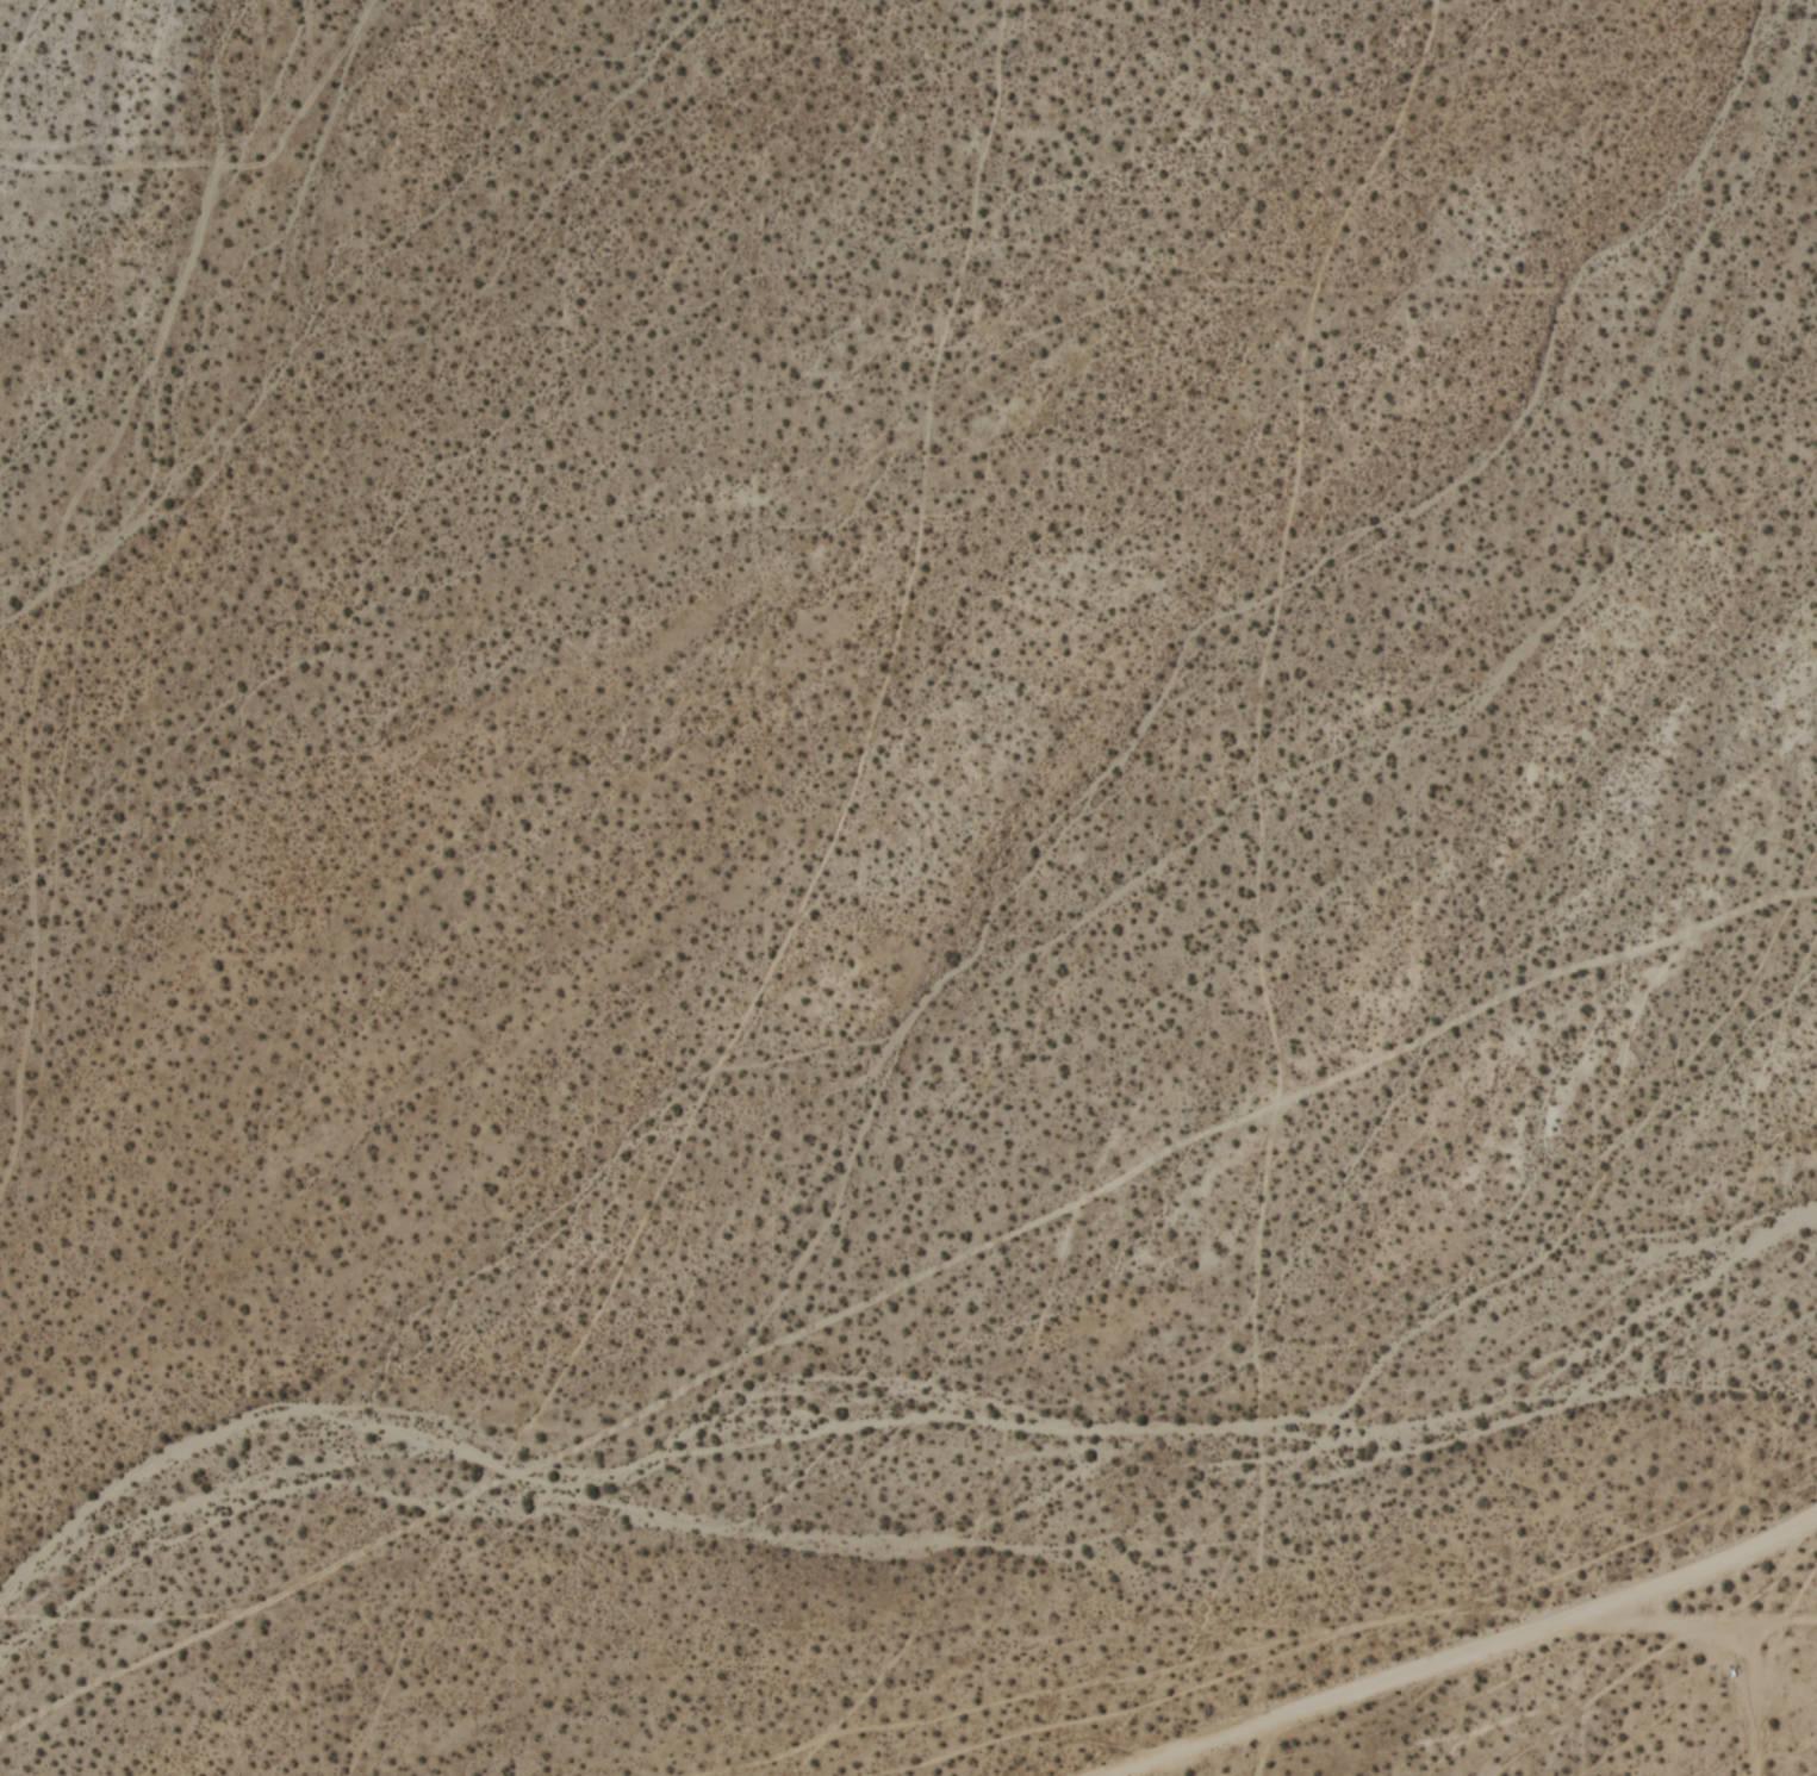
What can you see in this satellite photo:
road: (1464, 1653)

